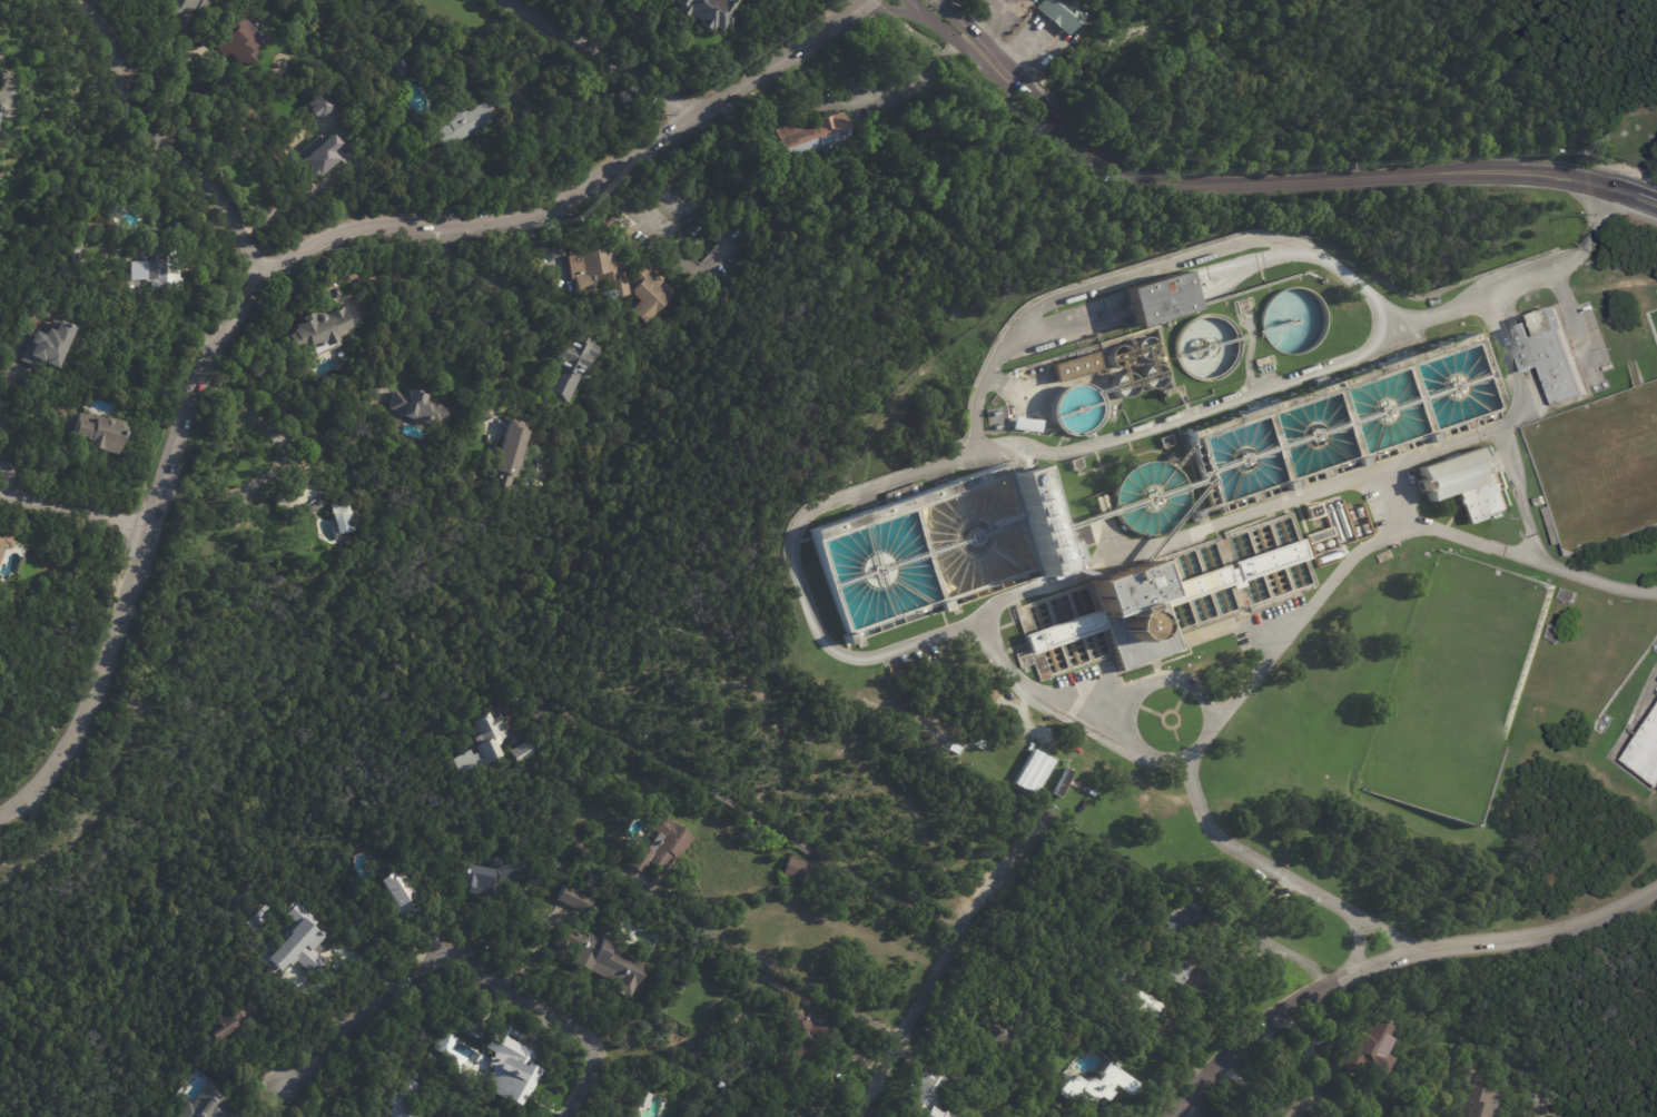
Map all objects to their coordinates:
building: (978, 1)
road: (941, 3)
building: (185, 7)
road: (895, 9)
building: (708, 11)
building: (1063, 13)
road: (642, 36)
building: (239, 40)
road: (605, 57)
road: (184, 60)
building: (402, 68)
road: (2, 75)
road: (918, 75)
road: (178, 103)
building: (317, 106)
building: (464, 122)
road: (175, 130)
road: (169, 141)
building: (808, 141)
road: (1630, 146)
building: (319, 156)
road: (1266, 177)
building: (723, 202)
building: (111, 206)
building: (76, 253)
building: (1591, 258)
road: (292, 261)
road: (714, 265)
building: (159, 271)
building: (598, 271)
building: (319, 290)
road: (513, 291)
building: (651, 291)
building: (1157, 293)
road: (431, 305)
building: (316, 333)
building: (49, 346)
building: (1143, 347)
storage tank: (1143, 347)
building: (1551, 354)
building: (1116, 355)
storage tank: (1116, 355)
building: (1076, 365)
building: (569, 368)
road: (1512, 372)
building: (1153, 376)
storage tank: (1153, 376)
road: (7, 384)
building: (1124, 385)
storage tank: (1124, 385)
building: (418, 408)
road: (1195, 408)
road: (257, 414)
building: (1027, 424)
building: (102, 433)
building: (1166, 441)
building: (506, 455)
building: (1076, 463)
road: (13, 474)
building: (1467, 483)
building: (298, 495)
building: (1539, 501)
road: (73, 510)
building: (1314, 510)
building: (339, 518)
building: (1035, 522)
building: (1320, 534)
wastewater plant: (1262, 542)
building: (3, 543)
building: (1074, 582)
building: (1163, 599)
building: (1655, 648)
road: (838, 649)
building: (900, 719)
building: (483, 744)
building: (1645, 751)
building: (522, 752)
building: (971, 759)
building: (1033, 772)
road: (736, 809)
building: (660, 844)
building: (797, 870)
road: (1282, 873)
building: (486, 877)
building: (394, 894)
building: (574, 899)
building: (282, 953)
road: (1391, 953)
road: (466, 957)
road: (768, 958)
building: (598, 959)
road: (938, 960)
building: (1197, 969)
building: (742, 985)
building: (1135, 991)
building: (226, 1024)
building: (1006, 1027)
building: (475, 1029)
building: (800, 1038)
building: (1371, 1045)
building: (510, 1069)
building: (1099, 1085)
building: (930, 1096)
building: (1471, 1096)
building: (402, 1099)
building: (1298, 1103)
building: (639, 1104)
road: (1540, 1104)
building: (206, 1105)
road: (1190, 1110)

